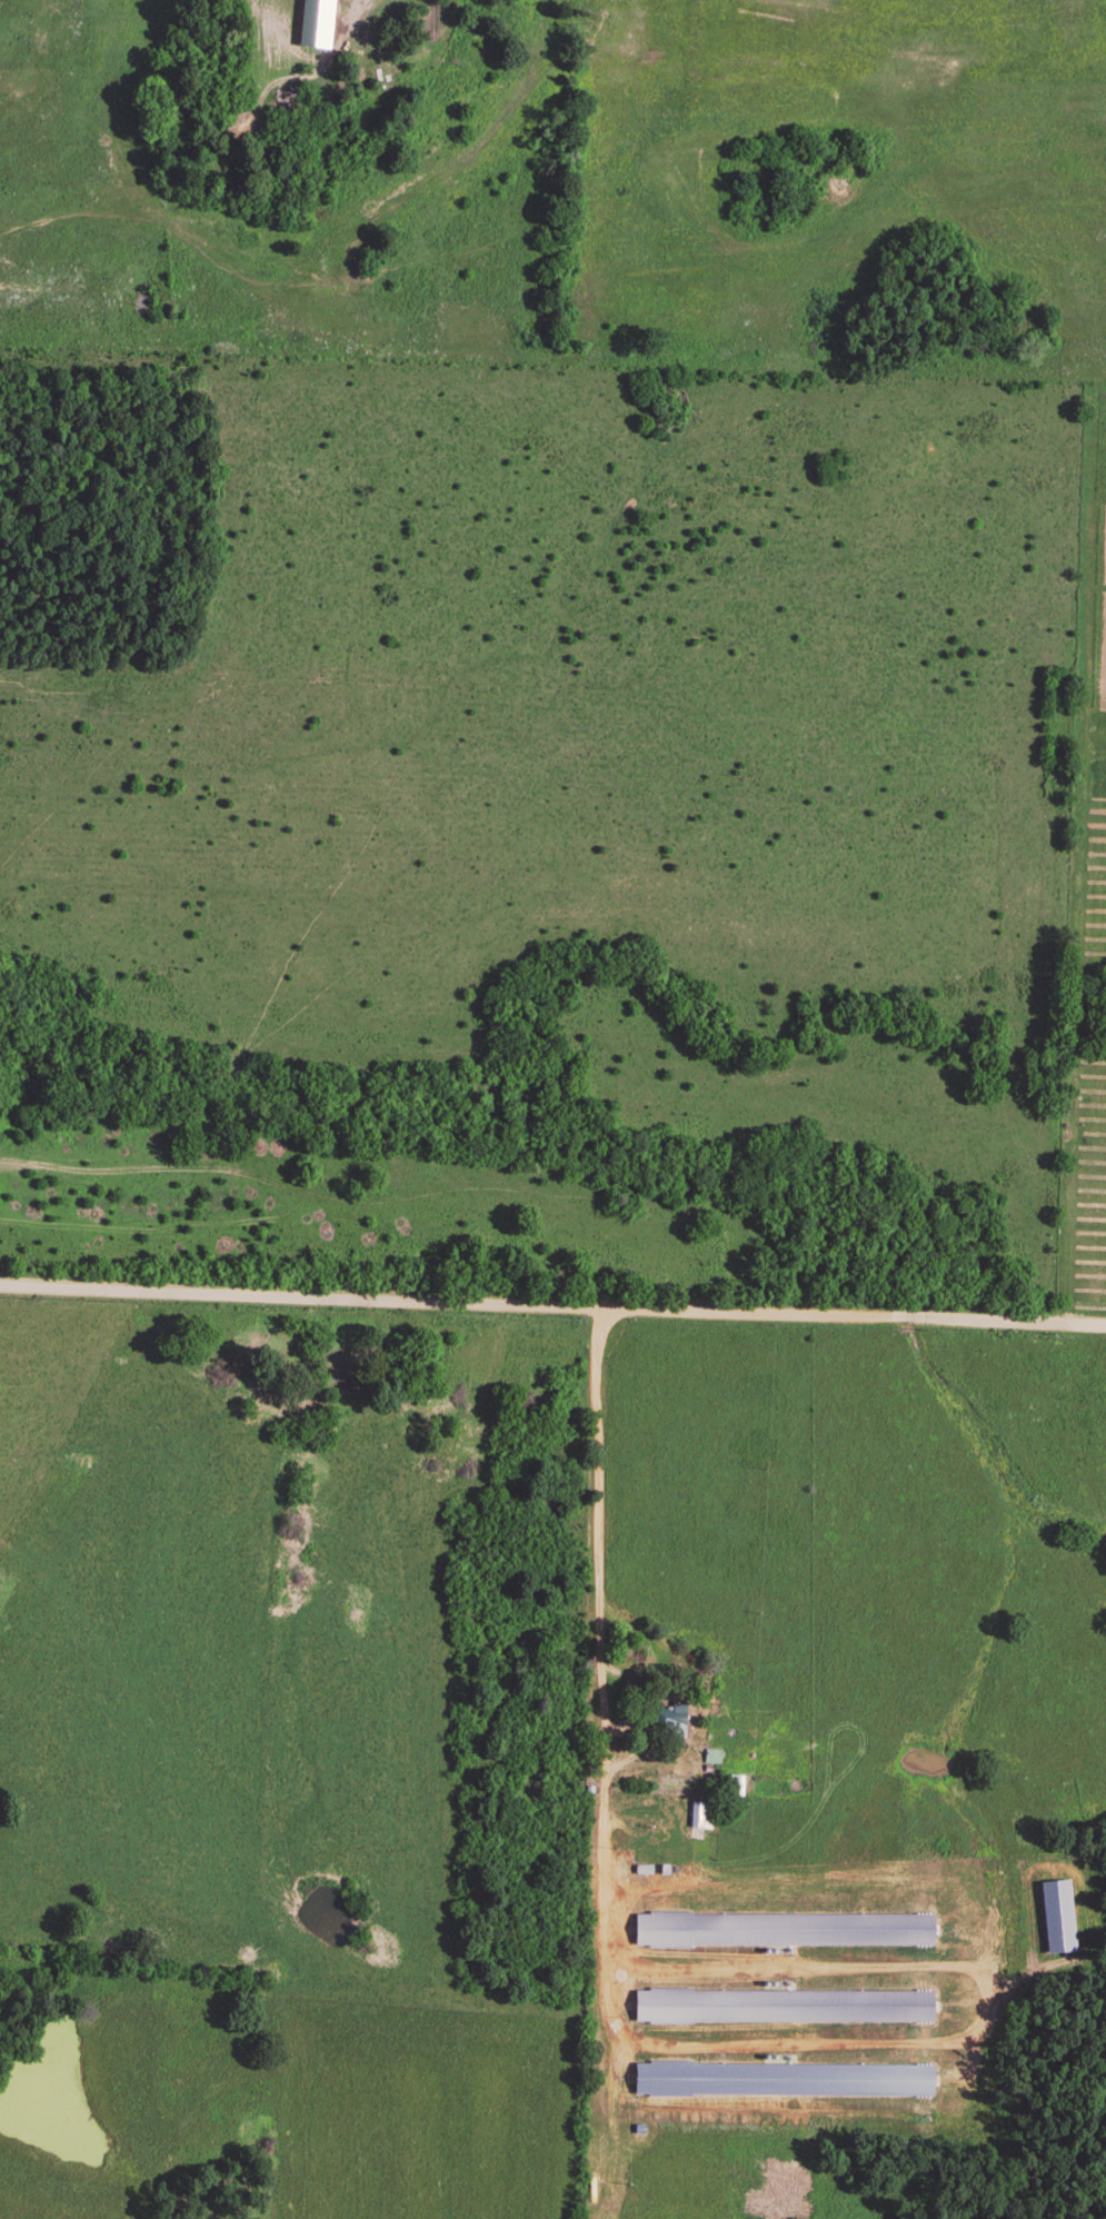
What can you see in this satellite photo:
road: (552, 1307)
road: (597, 1611)
building: (666, 1723)
building: (734, 1788)
building: (780, 1931)
building: (780, 2008)
building: (763, 2110)

